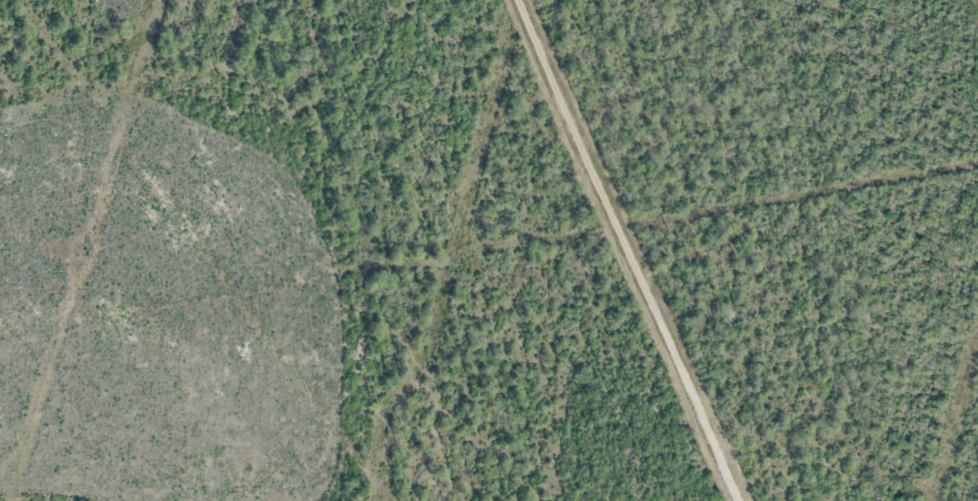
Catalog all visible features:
road: (633, 248)

